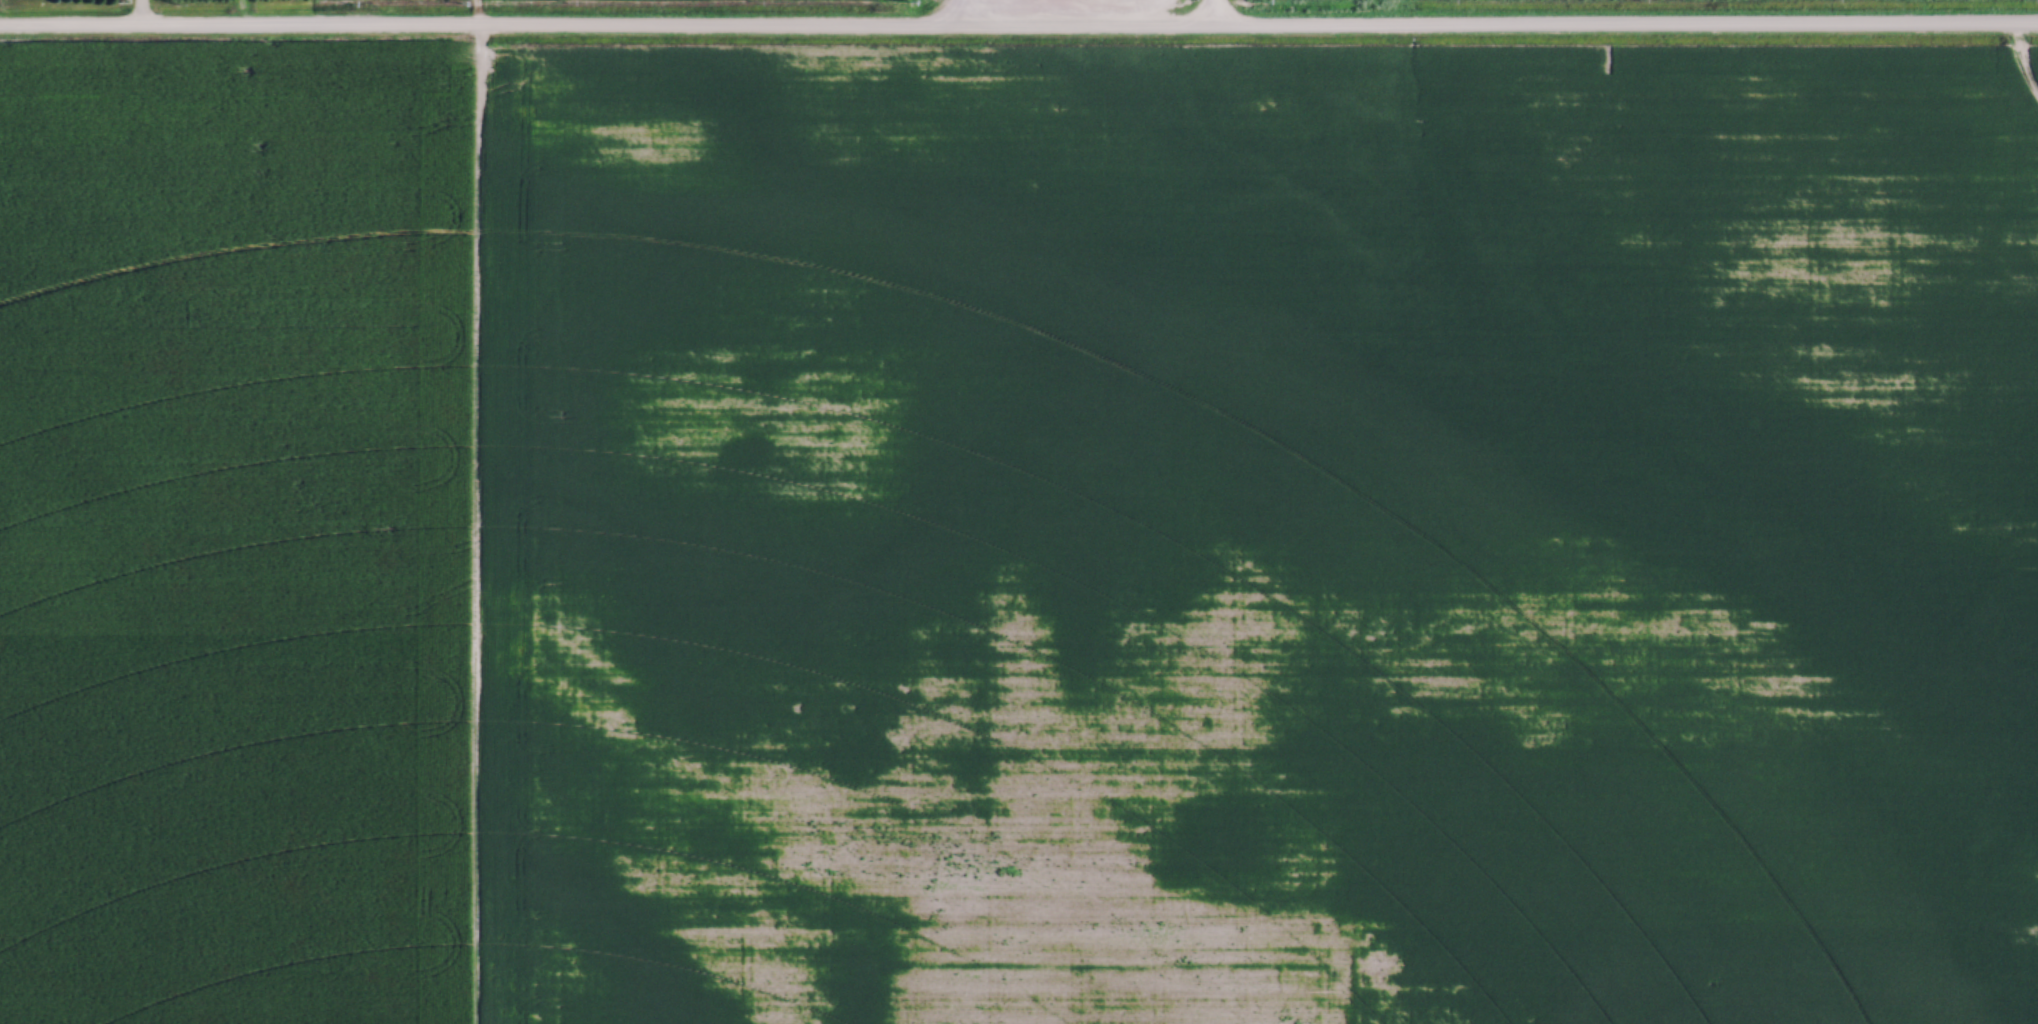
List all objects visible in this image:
road: (370, 14)
road: (1018, 28)

